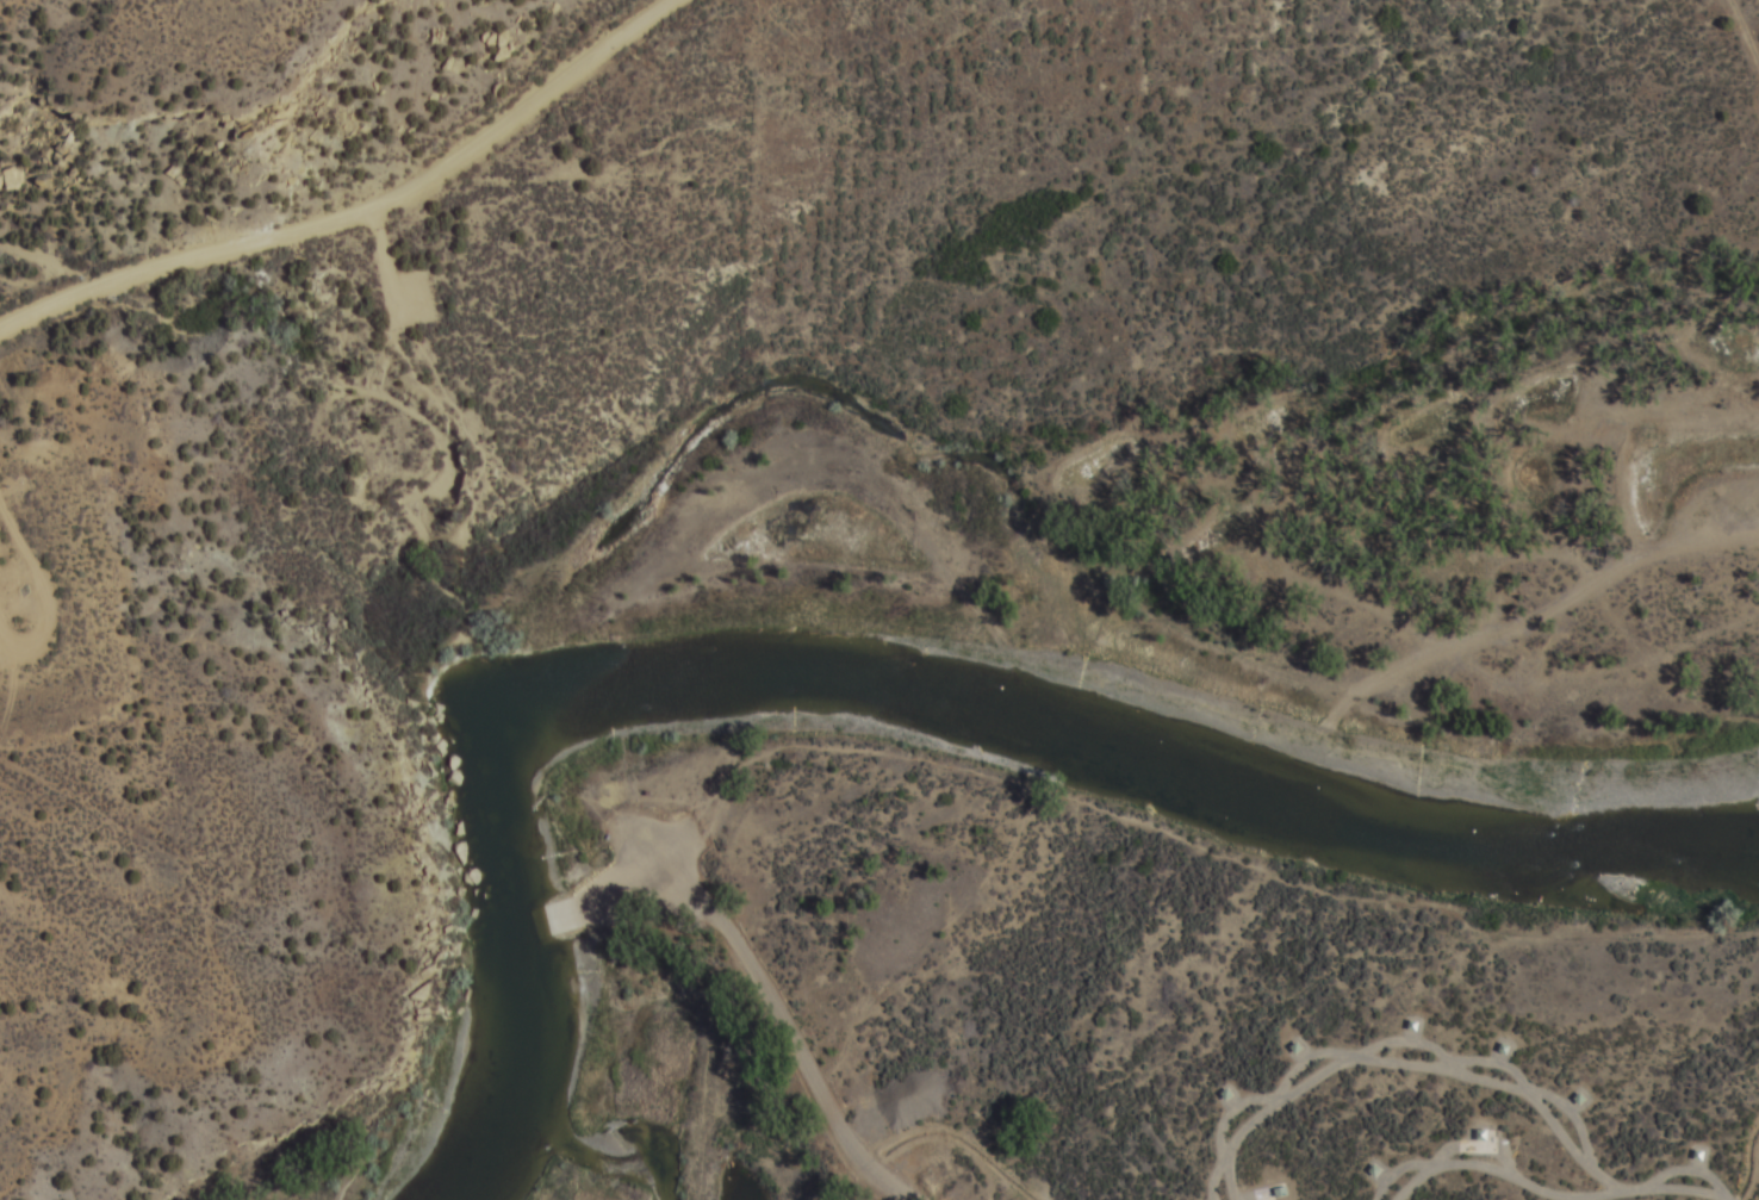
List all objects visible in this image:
road: (361, 214)
road: (394, 263)
parking lot: (415, 301)
road: (1219, 552)
road: (49, 597)
river: (888, 689)
road: (1195, 841)
road: (778, 1039)

